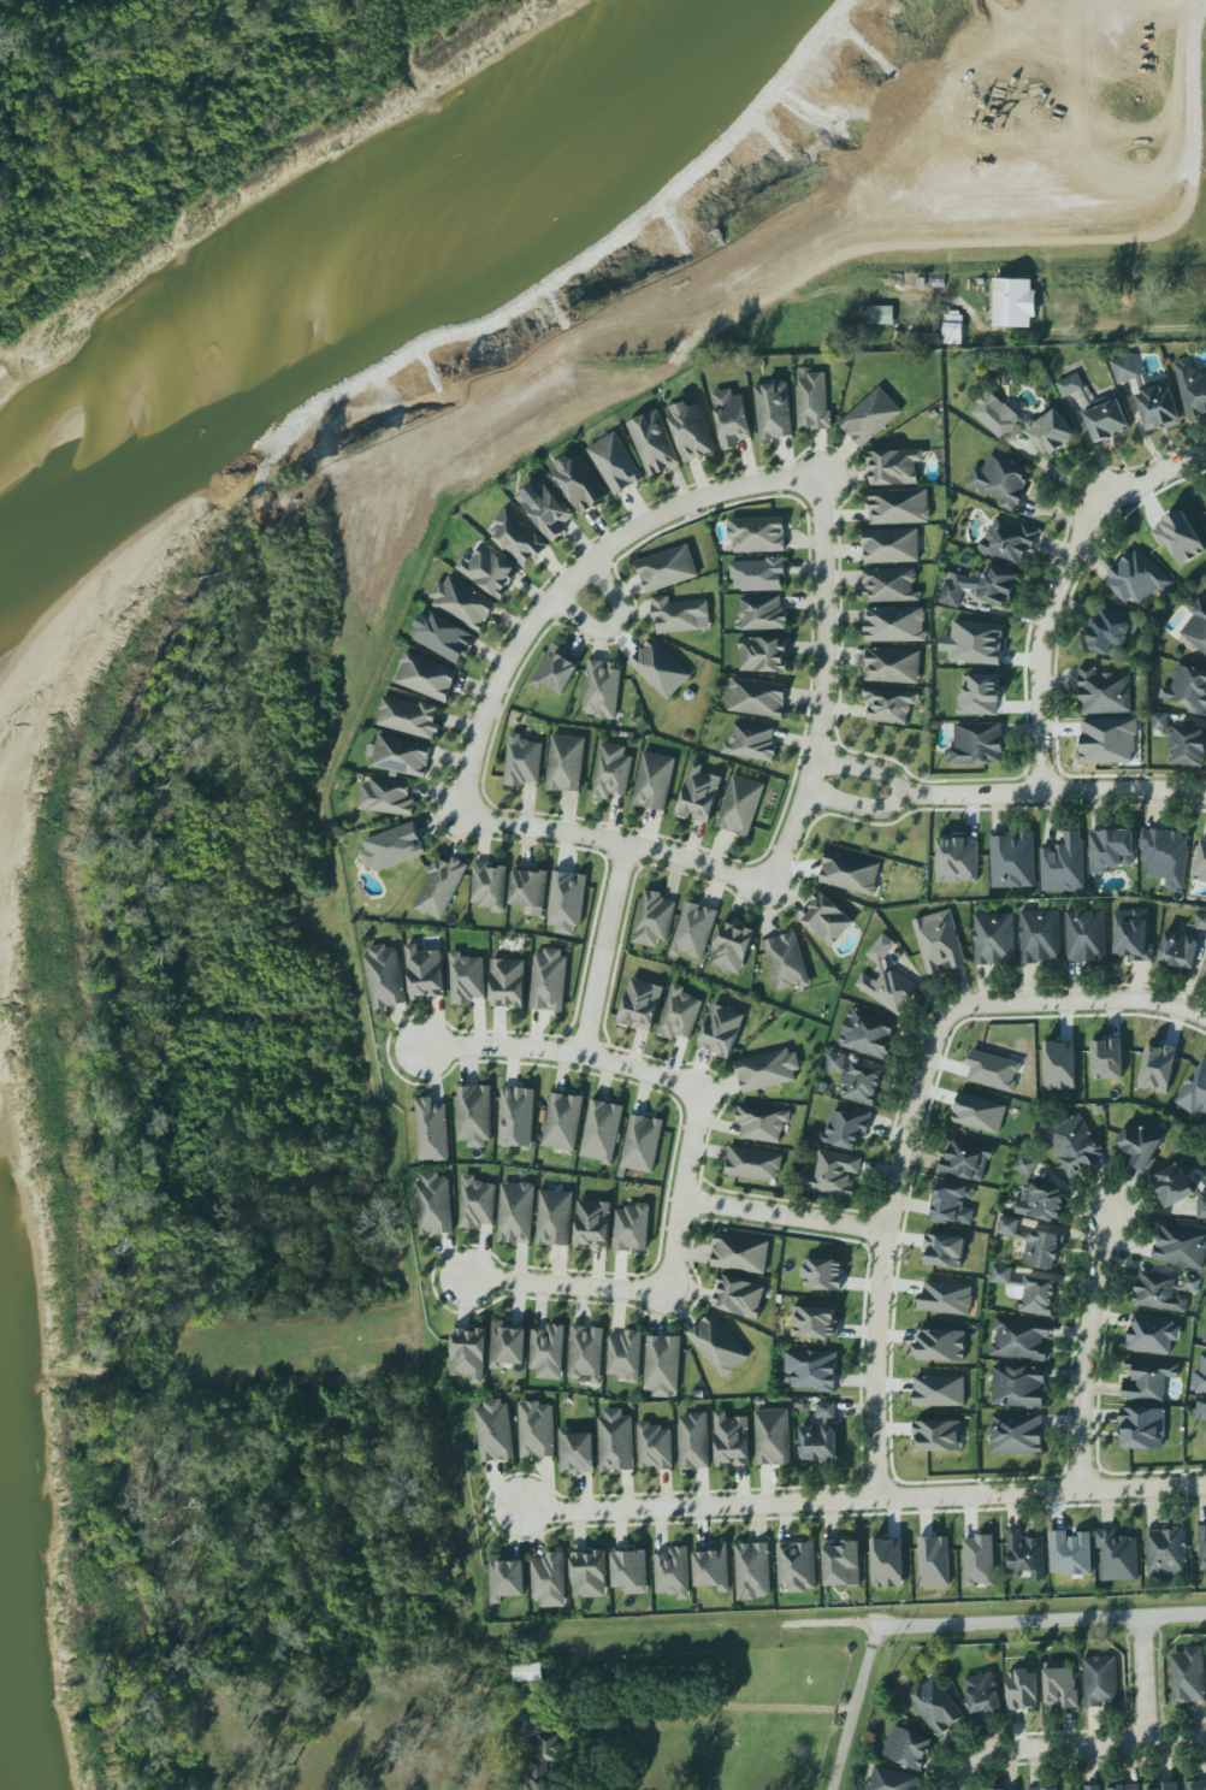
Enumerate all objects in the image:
river: (370, 258)
building: (1015, 302)
building: (881, 315)
building: (953, 329)
road: (1125, 330)
building: (1070, 385)
building: (1192, 389)
building: (1148, 395)
building: (814, 403)
building: (774, 409)
building: (998, 415)
building: (870, 417)
building: (733, 418)
building: (1107, 419)
building: (1052, 429)
building: (691, 430)
building: (654, 443)
building: (615, 463)
building: (895, 467)
road: (1059, 478)
building: (1000, 480)
building: (579, 483)
building: (900, 507)
building: (544, 508)
building: (757, 534)
building: (518, 538)
building: (1180, 538)
building: (1007, 540)
building: (892, 544)
building: (667, 568)
building: (490, 571)
building: (759, 574)
road: (577, 577)
building: (1137, 578)
building: (891, 584)
building: (980, 586)
road: (1057, 586)
building: (463, 603)
building: (762, 613)
building: (680, 615)
road: (617, 625)
building: (895, 625)
building: (1196, 625)
building: (1109, 628)
building: (443, 636)
building: (977, 643)
building: (764, 655)
building: (894, 666)
building: (660, 668)
building: (555, 669)
building: (426, 677)
road: (826, 681)
building: (603, 684)
building: (1188, 689)
building: (1102, 692)
building: (981, 695)
building: (756, 697)
building: (887, 704)
building: (409, 717)
building: (1160, 721)
building: (1107, 739)
building: (751, 742)
building: (975, 744)
building: (1189, 746)
building: (401, 755)
building: (522, 762)
building: (566, 763)
road: (867, 768)
building: (613, 772)
building: (654, 781)
road: (1058, 790)
building: (698, 793)
building: (386, 797)
road: (859, 803)
building: (740, 805)
road: (619, 841)
building: (392, 847)
building: (1111, 850)
building: (1165, 856)
building: (1200, 858)
building: (958, 859)
building: (1012, 859)
building: (1063, 864)
building: (850, 873)
building: (441, 886)
building: (489, 886)
building: (530, 888)
building: (567, 899)
building: (826, 917)
building: (654, 920)
building: (1200, 922)
building: (693, 931)
building: (1131, 934)
building: (1040, 935)
building: (1086, 935)
building: (994, 939)
building: (939, 941)
building: (732, 947)
road: (607, 950)
building: (1180, 950)
building: (786, 962)
building: (425, 973)
building: (1205, 974)
building: (385, 976)
building: (549, 977)
building: (466, 979)
building: (887, 980)
building: (508, 983)
road: (1076, 1002)
building: (642, 1004)
building: (679, 1014)
building: (721, 1030)
building: (868, 1034)
road: (558, 1053)
building: (1107, 1057)
building: (1059, 1063)
building: (1159, 1065)
building: (993, 1069)
building: (768, 1070)
building: (856, 1079)
building: (1193, 1091)
building: (979, 1112)
building: (474, 1115)
building: (516, 1117)
building: (561, 1120)
building: (761, 1121)
building: (846, 1128)
building: (432, 1130)
building: (602, 1132)
building: (643, 1141)
building: (1143, 1144)
building: (1075, 1145)
building: (968, 1159)
building: (753, 1164)
building: (833, 1174)
building: (1178, 1188)
road: (684, 1189)
building: (1039, 1195)
building: (474, 1203)
building: (952, 1204)
building: (434, 1205)
building: (516, 1212)
road: (786, 1215)
building: (555, 1218)
building: (593, 1224)
building: (632, 1228)
building: (1035, 1245)
building: (1181, 1246)
building: (945, 1251)
road: (885, 1252)
building: (740, 1253)
building: (823, 1272)
road: (568, 1284)
building: (1028, 1290)
building: (1163, 1292)
building: (739, 1296)
building: (946, 1298)
building: (816, 1323)
building: (1151, 1334)
building: (1204, 1335)
building: (1018, 1337)
building: (941, 1343)
building: (508, 1345)
building: (717, 1346)
road: (1088, 1349)
building: (548, 1352)
building: (586, 1353)
building: (468, 1354)
building: (625, 1355)
building: (662, 1365)
building: (812, 1370)
building: (1148, 1378)
building: (1199, 1378)
building: (1019, 1387)
building: (939, 1390)
building: (826, 1411)
building: (1201, 1411)
building: (1142, 1426)
building: (537, 1430)
building: (495, 1431)
building: (936, 1434)
building: (1017, 1434)
building: (773, 1437)
building: (615, 1439)
building: (732, 1441)
building: (694, 1442)
building: (818, 1443)
building: (655, 1447)
building: (577, 1451)
road: (864, 1500)
building: (1202, 1546)
building: (1166, 1552)
building: (1071, 1553)
building: (1025, 1556)
building: (1118, 1556)
building: (980, 1560)
building: (888, 1561)
building: (934, 1561)
building: (796, 1565)
building: (843, 1565)
building: (713, 1569)
building: (752, 1571)
building: (631, 1572)
building: (590, 1575)
building: (673, 1575)
building: (506, 1579)
building: (549, 1579)
road: (1041, 1619)
road: (833, 1627)
building: (528, 1672)
building: (1189, 1674)
road: (1141, 1678)
building: (1100, 1680)
building: (1060, 1686)
building: (1023, 1690)
building: (982, 1692)
building: (935, 1706)
road: (856, 1707)
road: (708, 1708)
road: (1083, 1744)
building: (908, 1748)
building: (544, 1766)
river: (2, 1772)
road: (963, 1778)
building: (891, 1779)
building: (1195, 1785)
building: (1167, 1786)
building: (1092, 1788)
building: (1122, 1788)
building: (1044, 1789)

